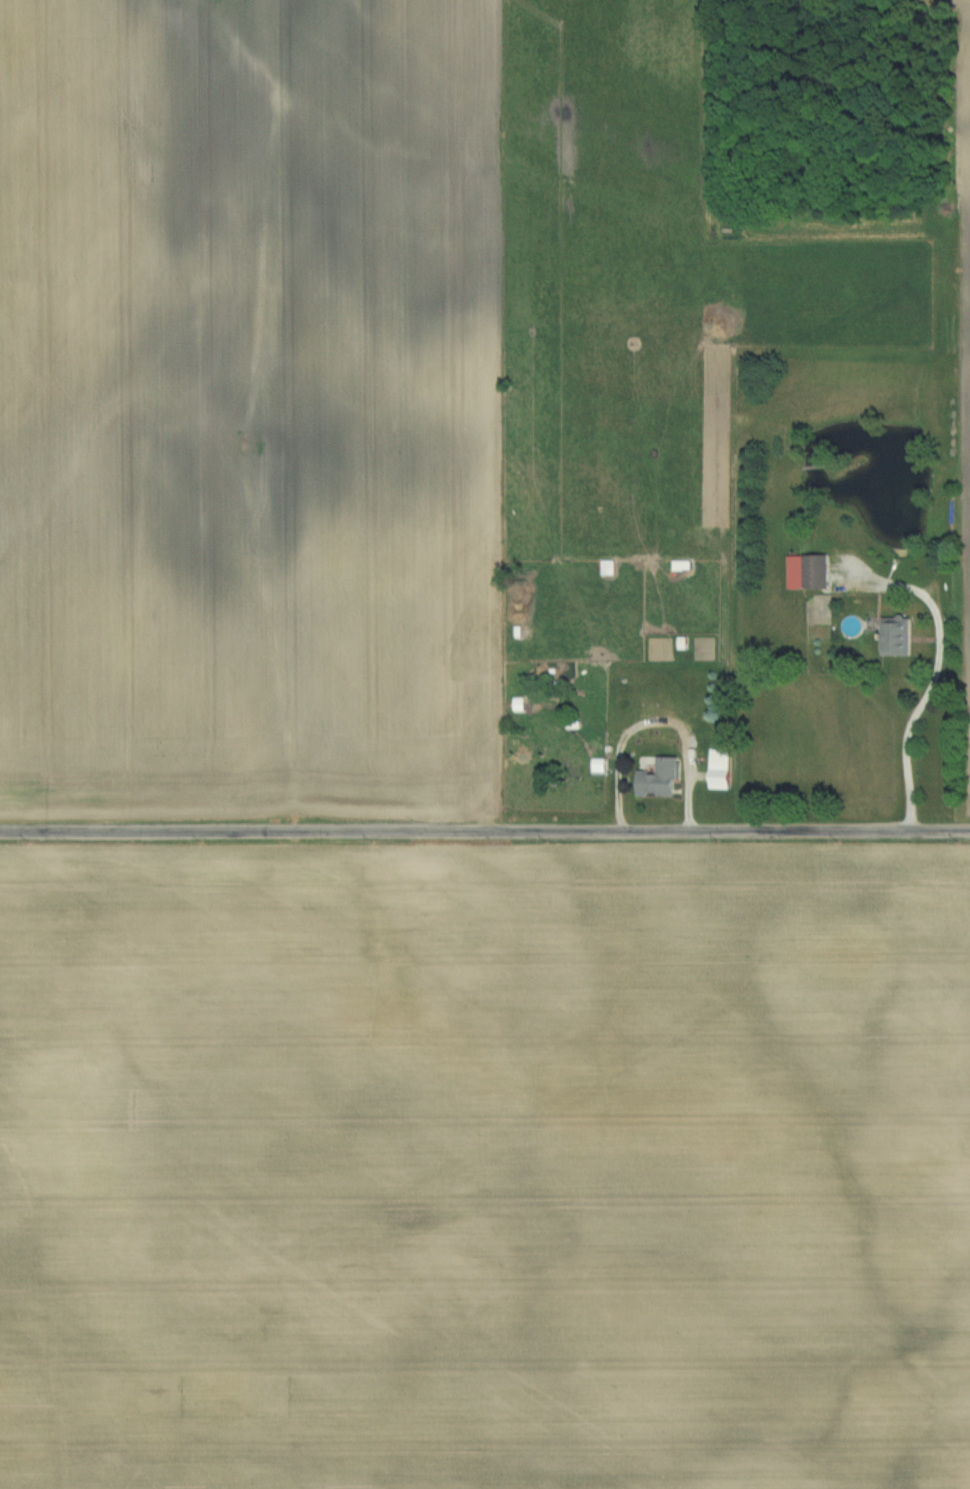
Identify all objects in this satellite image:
building: (809, 573)
building: (898, 636)
road: (907, 732)
building: (721, 776)
building: (661, 778)
road: (485, 832)

